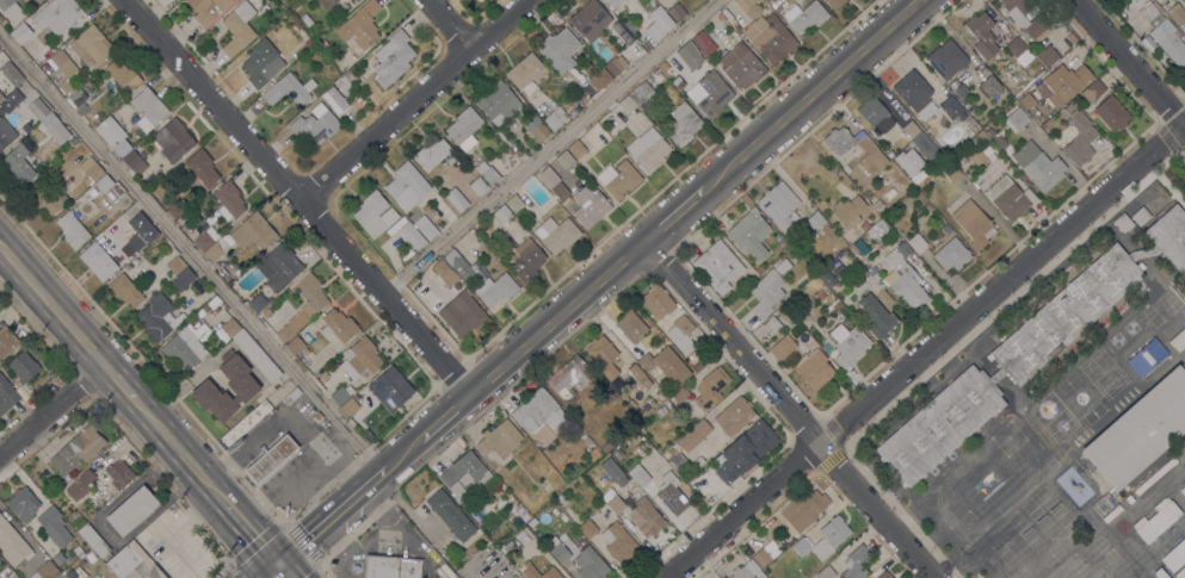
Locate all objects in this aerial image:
building: (357, 0)
building: (481, 0)
building: (326, 2)
building: (611, 4)
building: (834, 4)
building: (8, 6)
building: (208, 10)
building: (675, 12)
building: (1175, 13)
building: (57, 15)
building: (806, 15)
building: (305, 19)
building: (590, 20)
building: (4, 23)
building: (1032, 23)
building: (658, 24)
building: (360, 25)
road: (446, 25)
building: (295, 26)
building: (239, 27)
building: (766, 32)
building: (1162, 32)
building: (20, 33)
building: (982, 35)
building: (1070, 37)
building: (308, 43)
building: (703, 43)
building: (91, 45)
building: (558, 45)
building: (646, 46)
building: (689, 50)
building: (1019, 50)
building: (1047, 55)
building: (393, 57)
building: (946, 58)
building: (622, 61)
building: (1068, 61)
building: (63, 63)
building: (263, 63)
building: (741, 66)
building: (613, 67)
road: (1125, 67)
building: (526, 73)
building: (7, 76)
building: (122, 76)
building: (348, 76)
building: (599, 77)
building: (1064, 82)
building: (988, 86)
building: (344, 87)
building: (289, 89)
building: (1093, 91)
building: (915, 93)
building: (710, 94)
building: (579, 95)
building: (642, 95)
building: (12, 98)
building: (334, 100)
road: (415, 100)
building: (1026, 100)
building: (79, 101)
building: (358, 102)
building: (498, 102)
building: (627, 105)
road: (801, 105)
building: (1068, 107)
building: (148, 108)
building: (951, 108)
building: (875, 113)
building: (1111, 113)
building: (555, 118)
building: (1016, 119)
building: (315, 124)
building: (683, 124)
building: (54, 128)
building: (464, 128)
building: (10, 129)
building: (535, 130)
building: (981, 135)
building: (113, 136)
building: (173, 139)
building: (1080, 139)
building: (921, 141)
building: (1000, 142)
road: (549, 145)
building: (575, 148)
building: (648, 149)
building: (870, 150)
building: (508, 153)
building: (431, 154)
building: (564, 159)
building: (135, 161)
building: (908, 161)
building: (18, 166)
building: (1038, 166)
building: (202, 168)
building: (91, 170)
building: (950, 172)
building: (487, 173)
building: (618, 179)
building: (553, 181)
building: (104, 184)
building: (407, 186)
building: (479, 186)
building: (93, 192)
road: (300, 194)
building: (45, 197)
building: (1010, 198)
building: (455, 199)
building: (228, 200)
building: (514, 203)
building: (778, 204)
building: (878, 204)
building: (590, 205)
building: (175, 209)
building: (848, 210)
building: (375, 213)
building: (502, 213)
building: (1138, 217)
building: (815, 220)
building: (1122, 222)
building: (973, 223)
road: (664, 225)
building: (864, 225)
building: (425, 226)
building: (482, 228)
building: (72, 230)
building: (876, 230)
building: (253, 231)
building: (148, 234)
building: (556, 234)
building: (749, 234)
building: (412, 235)
building: (938, 236)
building: (1169, 236)
building: (206, 238)
building: (916, 242)
building: (216, 249)
building: (1143, 253)
building: (951, 254)
road: (191, 255)
building: (97, 259)
building: (795, 259)
building: (526, 260)
building: (135, 261)
building: (834, 263)
building: (175, 265)
building: (459, 265)
building: (717, 265)
building: (279, 266)
building: (782, 267)
building: (758, 269)
building: (444, 272)
building: (826, 275)
building: (865, 275)
building: (901, 276)
building: (183, 279)
building: (496, 288)
building: (124, 290)
building: (766, 292)
building: (820, 296)
building: (212, 302)
building: (258, 302)
building: (656, 302)
building: (303, 306)
road: (50, 311)
building: (266, 312)
building: (462, 313)
building: (783, 313)
building: (1066, 313)
building: (876, 316)
building: (158, 317)
road: (558, 318)
building: (338, 325)
building: (631, 325)
building: (772, 325)
building: (227, 329)
building: (680, 334)
building: (1178, 341)
building: (6, 342)
building: (848, 343)
building: (297, 346)
building: (782, 347)
building: (184, 348)
road: (924, 350)
building: (257, 355)
building: (603, 355)
building: (1147, 356)
building: (360, 359)
building: (649, 365)
building: (697, 365)
building: (1183, 365)
building: (23, 366)
building: (814, 371)
building: (323, 375)
building: (640, 375)
building: (996, 375)
building: (569, 377)
road: (116, 385)
building: (245, 387)
building: (710, 387)
building: (390, 389)
building: (605, 392)
building: (294, 393)
building: (6, 394)
building: (341, 394)
building: (680, 394)
building: (623, 397)
building: (630, 404)
building: (348, 406)
building: (661, 410)
road: (790, 410)
road: (50, 412)
building: (541, 412)
building: (734, 415)
building: (317, 417)
road: (448, 417)
building: (246, 422)
building: (940, 424)
building: (1138, 431)
building: (693, 435)
building: (634, 437)
building: (499, 439)
building: (587, 441)
building: (607, 446)
building: (78, 449)
building: (746, 449)
road: (175, 454)
road: (402, 455)
building: (270, 458)
building: (699, 460)
building: (679, 462)
building: (613, 471)
building: (119, 473)
building: (463, 474)
building: (638, 474)
building: (80, 484)
building: (1183, 490)
building: (496, 492)
building: (671, 493)
building: (561, 499)
building: (615, 503)
building: (23, 504)
building: (554, 506)
building: (803, 509)
building: (131, 510)
building: (450, 515)
building: (646, 517)
road: (329, 518)
building: (1156, 520)
building: (54, 527)
road: (402, 529)
building: (587, 529)
road: (251, 535)
building: (524, 536)
building: (563, 539)
building: (823, 539)
building: (93, 541)
building: (618, 541)
building: (12, 543)
building: (502, 548)
building: (771, 548)
building: (78, 551)
building: (560, 552)
building: (1174, 555)
building: (90, 557)
building: (761, 557)
building: (57, 558)
building: (0, 560)
building: (857, 561)
building: (132, 564)
building: (591, 564)
traffic signals: (279, 565)
building: (391, 566)
building: (530, 570)
building: (746, 570)
building: (45, 571)
road: (271, 571)
road: (284, 571)
building: (448, 571)
building: (826, 572)
building: (69, 573)
road: (475, 573)
building: (1160, 573)
building: (1180, 573)
building: (6, 574)
building: (884, 574)

